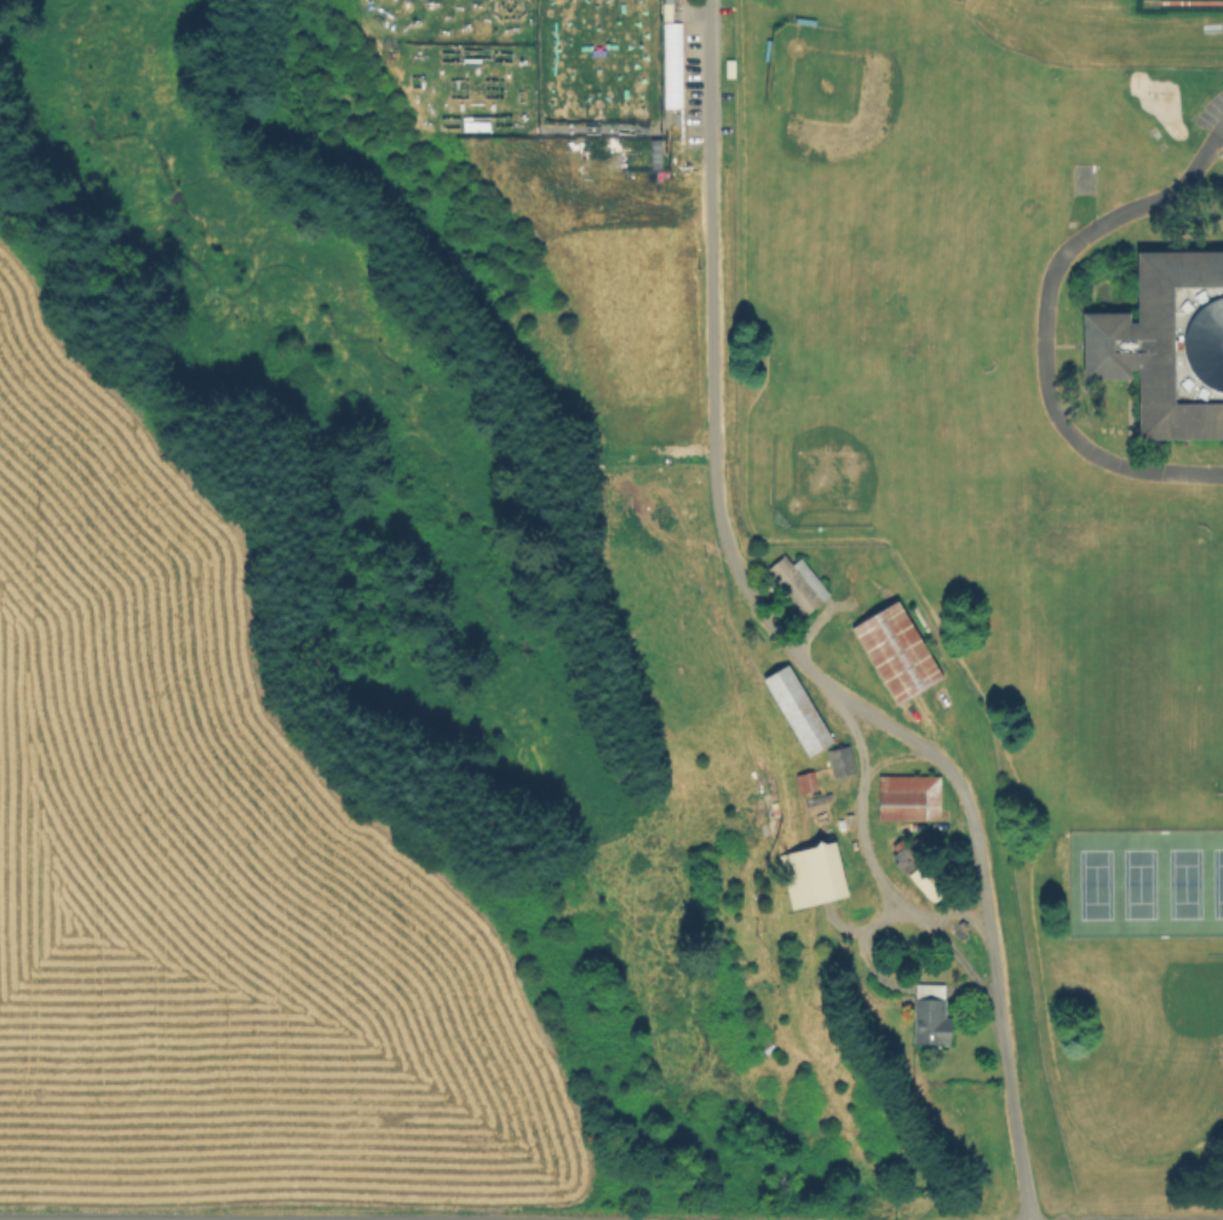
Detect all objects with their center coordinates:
building: (670, 65)
parking lot: (1212, 114)
park: (894, 157)
road: (1043, 321)
building: (1166, 343)
park: (877, 430)
building: (796, 585)
road: (786, 645)
building: (897, 654)
park: (1114, 673)
building: (800, 709)
building: (840, 759)
building: (806, 783)
building: (911, 800)
road: (869, 847)
building: (923, 871)
building: (815, 876)
park: (1183, 882)
park: (1217, 882)
park: (1093, 884)
park: (1137, 884)
road: (872, 932)
road: (960, 953)
road: (875, 968)
building: (921, 1019)
park: (1155, 1026)
building: (768, 1047)

